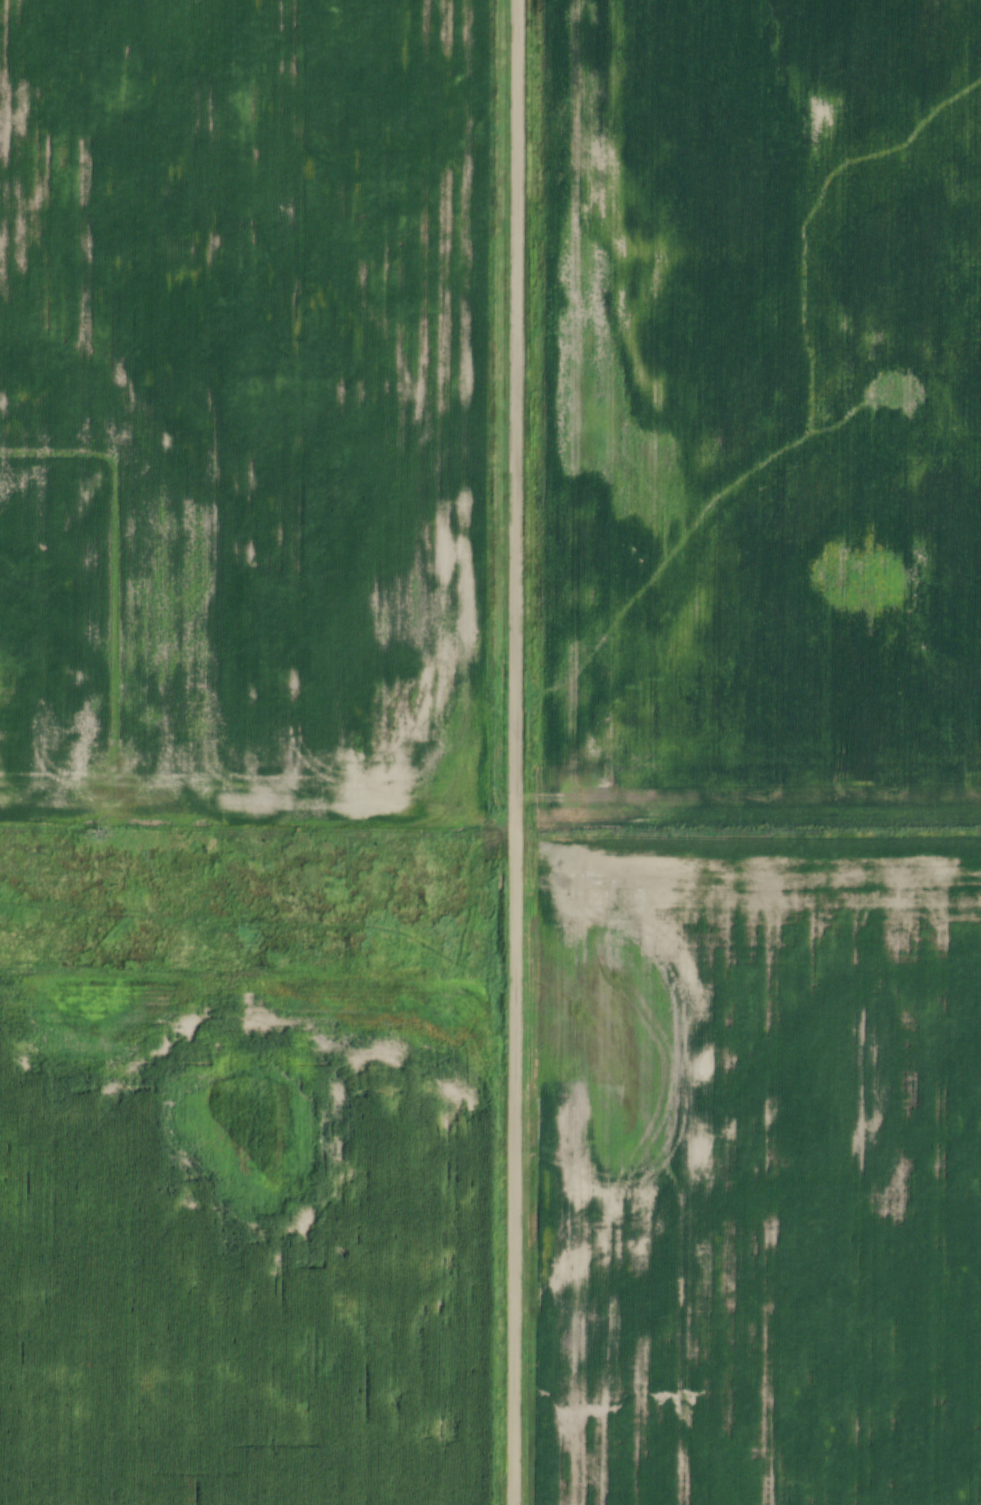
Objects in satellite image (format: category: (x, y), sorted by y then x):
road: (515, 752)

